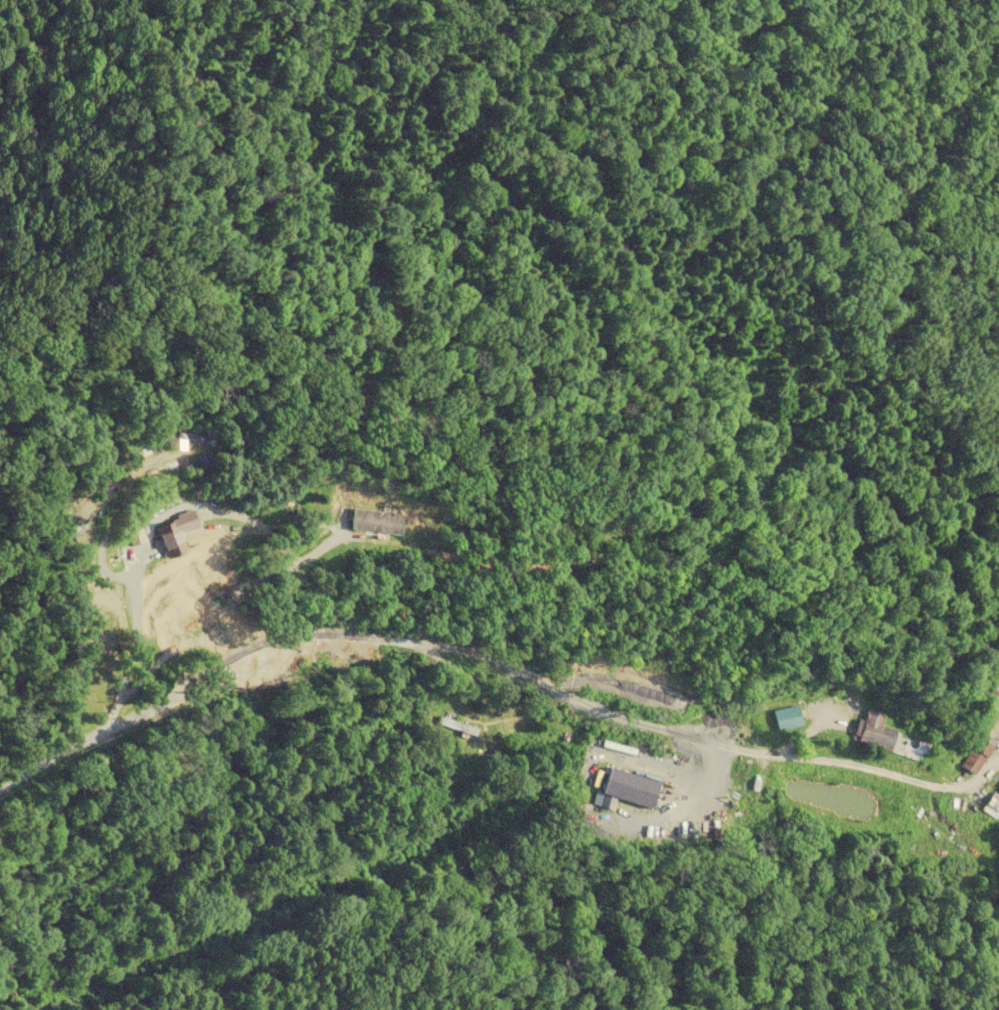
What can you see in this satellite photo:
building: (377, 522)
building: (71, 525)
building: (174, 534)
building: (457, 726)
building: (875, 729)
building: (976, 754)
building: (627, 786)

